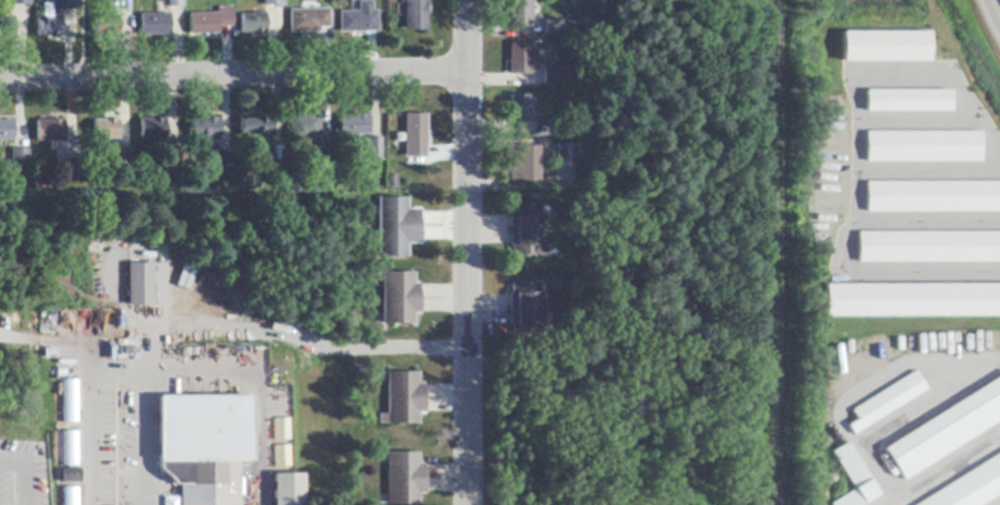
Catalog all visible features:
building: (20, 3)
building: (176, 3)
building: (274, 3)
building: (64, 5)
building: (120, 6)
building: (520, 12)
road: (993, 13)
building: (416, 15)
building: (359, 20)
building: (309, 21)
building: (211, 22)
building: (253, 24)
building: (155, 25)
building: (50, 26)
building: (106, 26)
building: (7, 27)
building: (552, 28)
building: (885, 49)
building: (522, 59)
road: (234, 76)
building: (555, 76)
building: (906, 100)
building: (520, 108)
building: (354, 125)
building: (256, 127)
building: (304, 127)
building: (544, 127)
building: (203, 128)
building: (107, 129)
building: (153, 129)
building: (6, 131)
building: (51, 131)
building: (415, 136)
building: (925, 146)
building: (375, 149)
building: (122, 156)
building: (566, 157)
building: (21, 158)
building: (323, 158)
building: (177, 159)
building: (224, 162)
building: (524, 164)
building: (67, 169)
building: (242, 174)
building: (392, 182)
building: (931, 196)
building: (397, 228)
building: (526, 232)
building: (929, 245)
road: (467, 252)
railway: (764, 252)
railway: (776, 252)
building: (140, 285)
building: (400, 299)
building: (912, 301)
building: (524, 311)
road: (215, 326)
road: (114, 377)
building: (403, 399)
building: (69, 400)
building: (886, 402)
building: (282, 430)
building: (946, 431)
building: (204, 445)
building: (69, 447)
building: (282, 457)
building: (71, 476)
building: (404, 479)
building: (854, 479)
building: (971, 487)
building: (288, 490)
building: (69, 495)
building: (170, 500)

